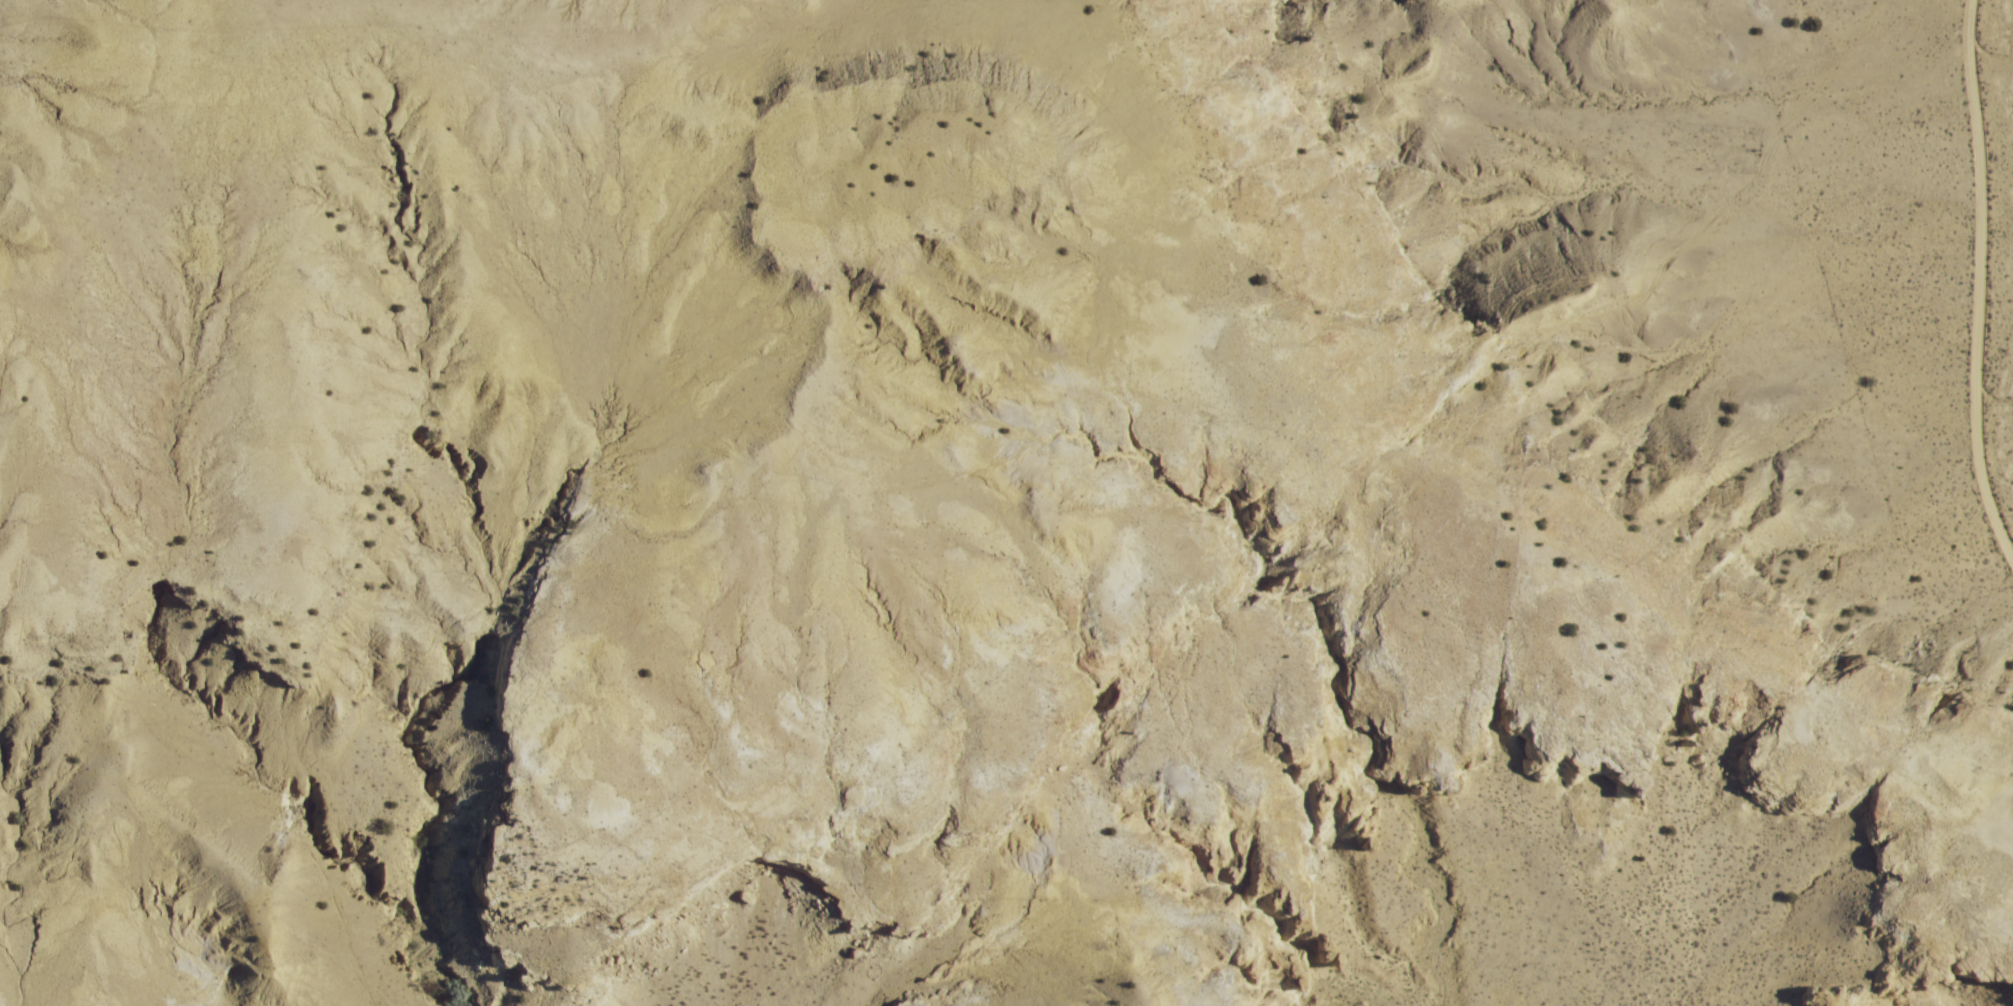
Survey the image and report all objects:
park: (1700, 147)
road: (1977, 284)

